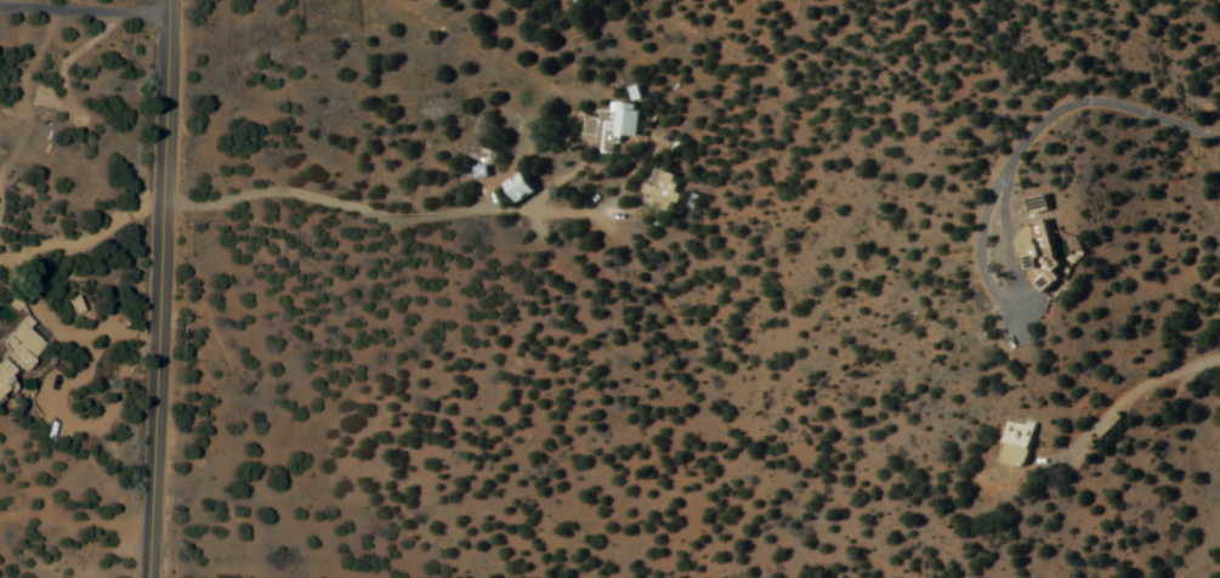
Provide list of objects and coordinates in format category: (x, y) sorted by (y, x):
road: (1059, 115)
building: (625, 121)
building: (600, 130)
building: (662, 187)
building: (516, 188)
road: (255, 194)
road: (169, 289)
building: (15, 352)
road: (1150, 384)

